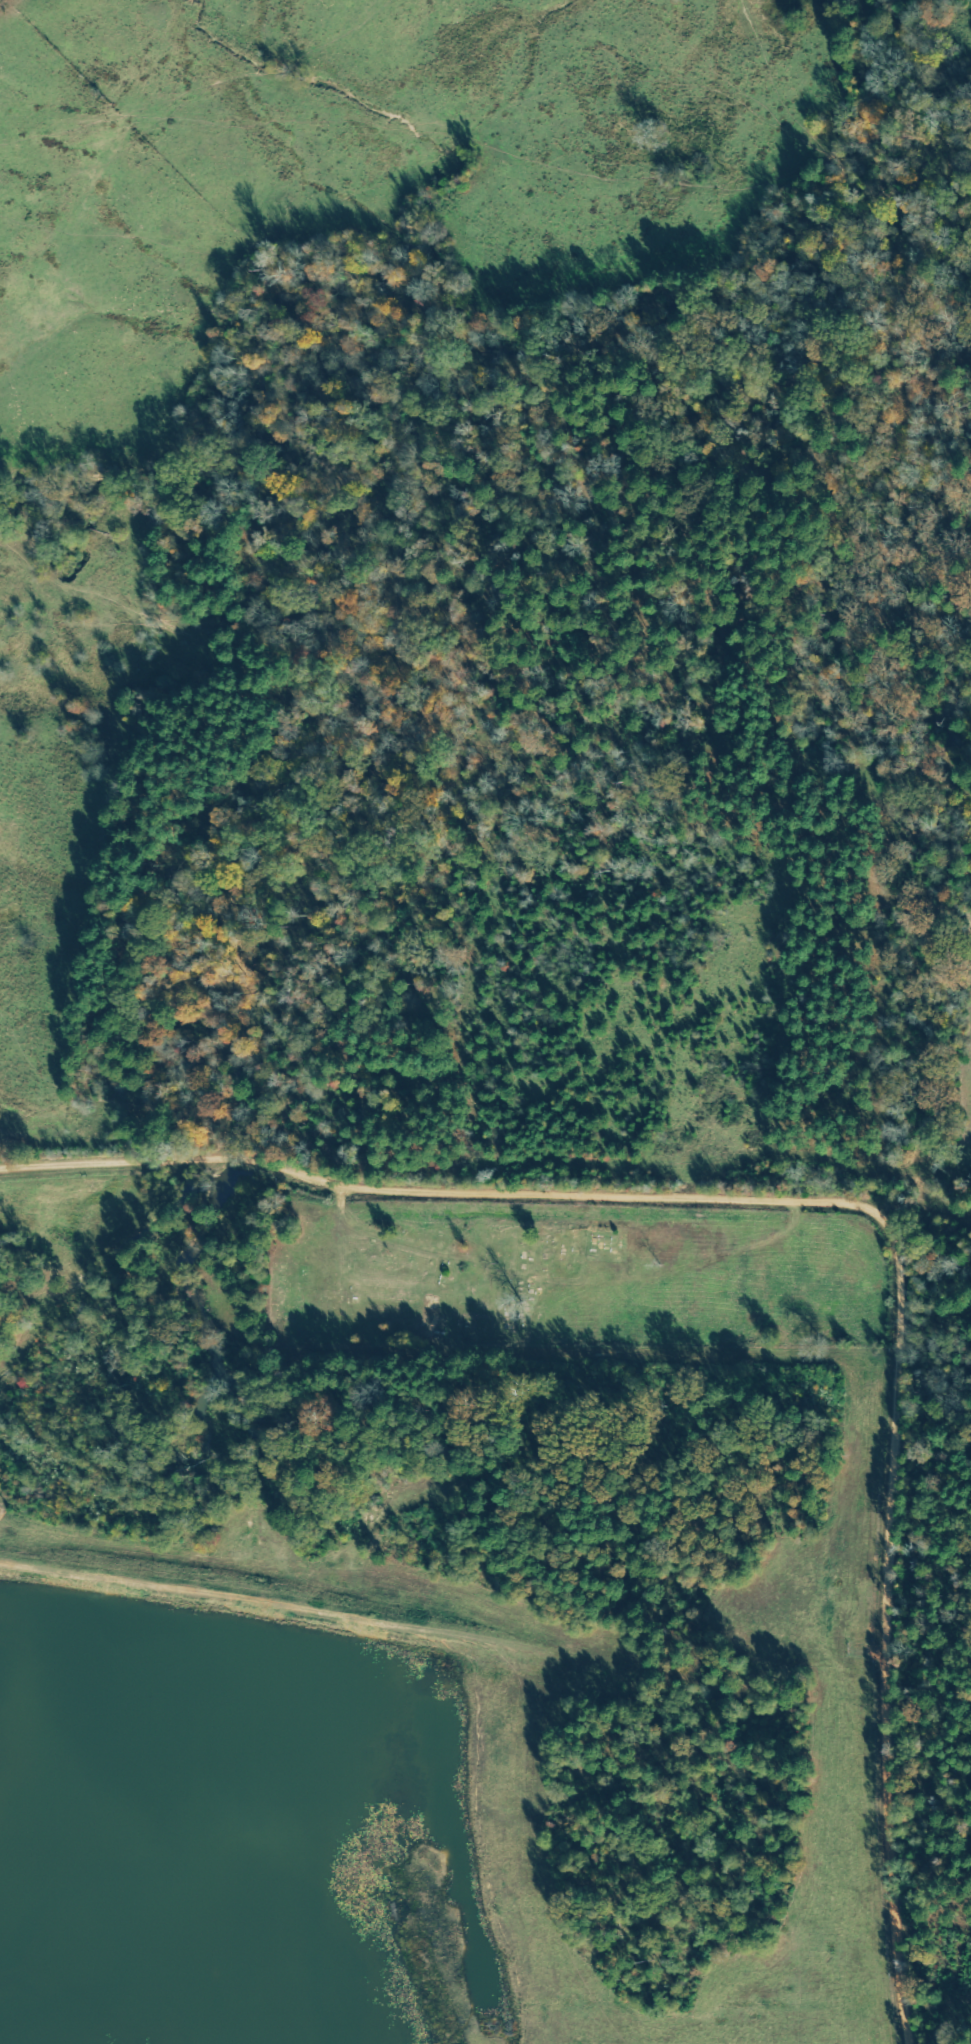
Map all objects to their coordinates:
road: (440, 1193)
park: (472, 1277)
road: (887, 1628)

